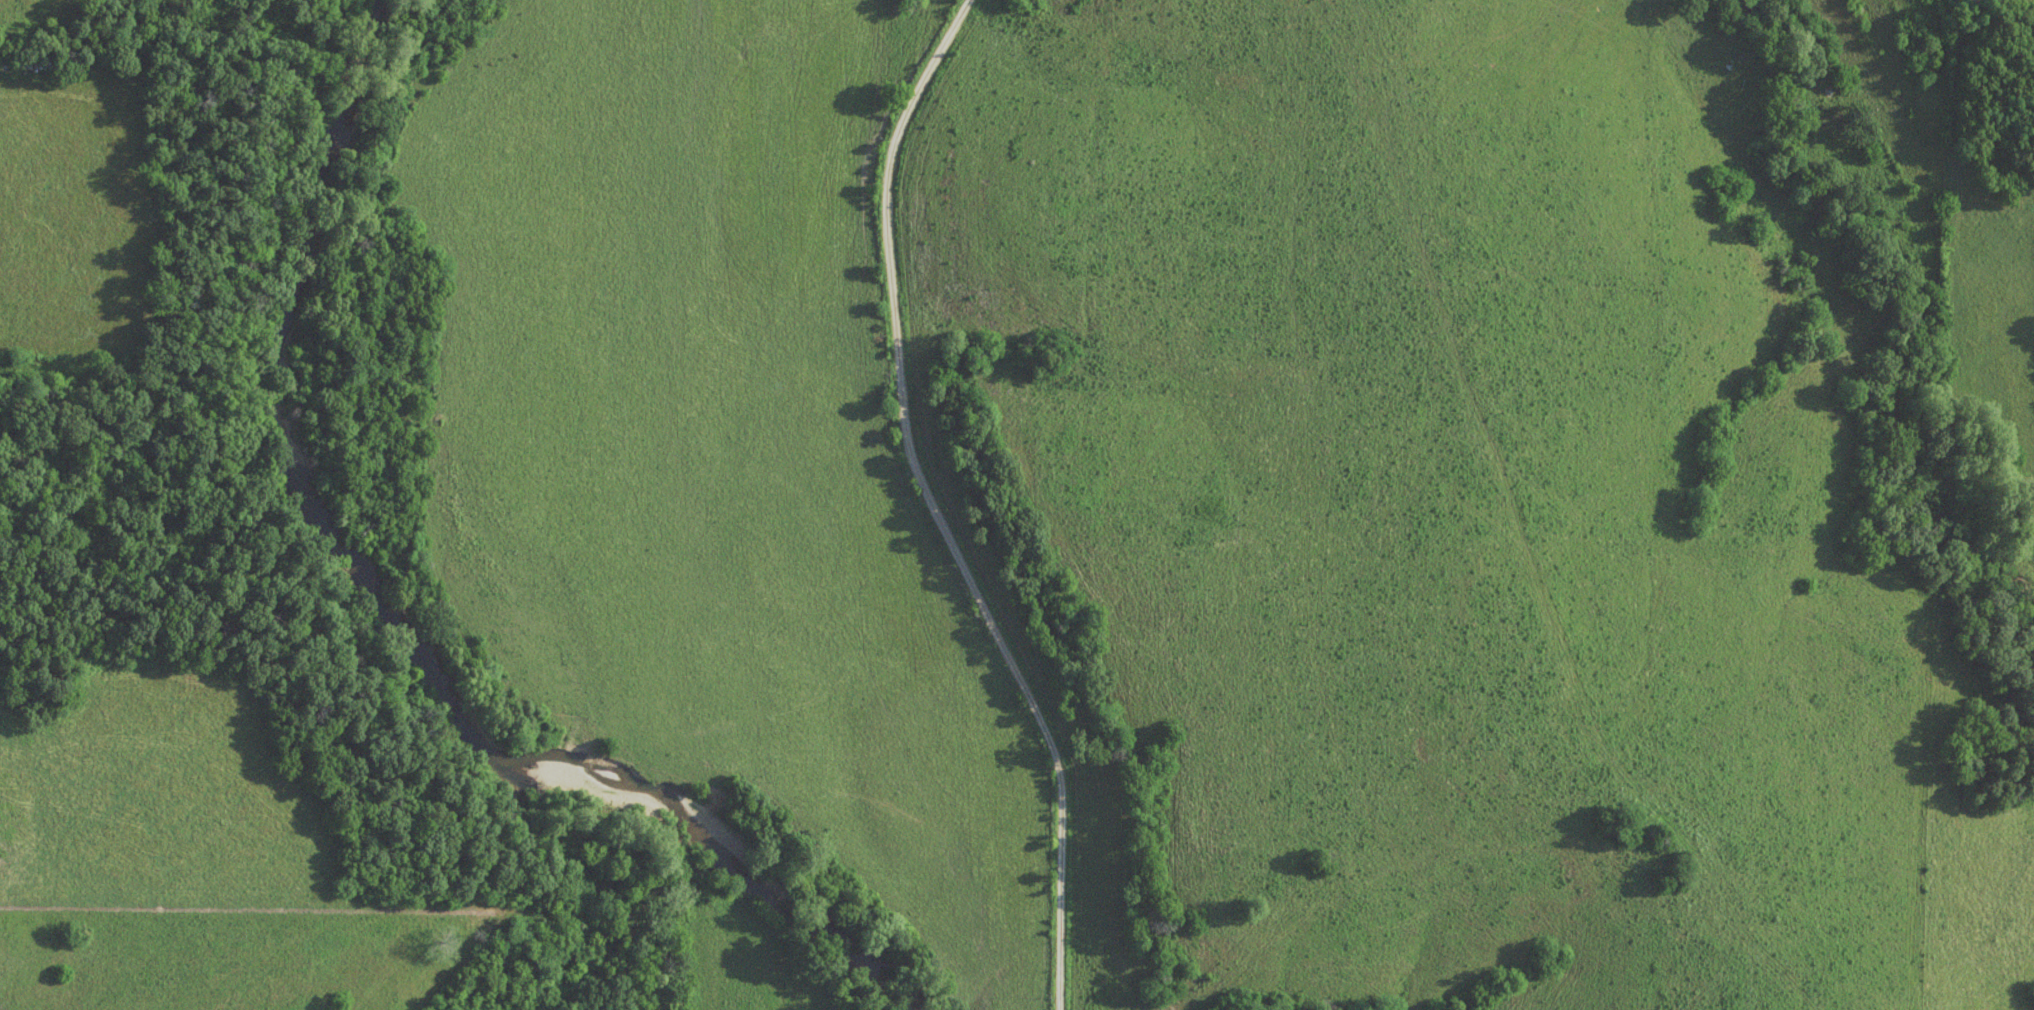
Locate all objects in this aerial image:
road: (938, 506)

